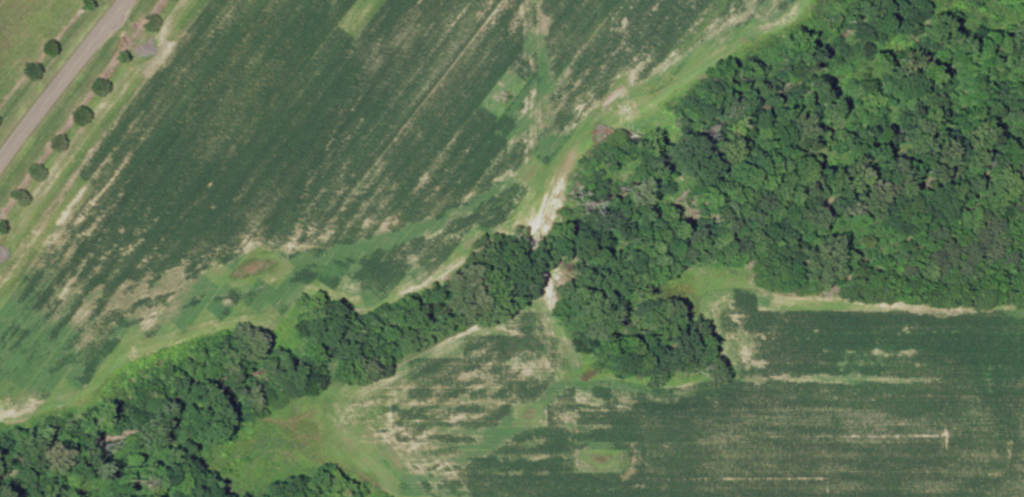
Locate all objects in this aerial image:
road: (60, 76)

